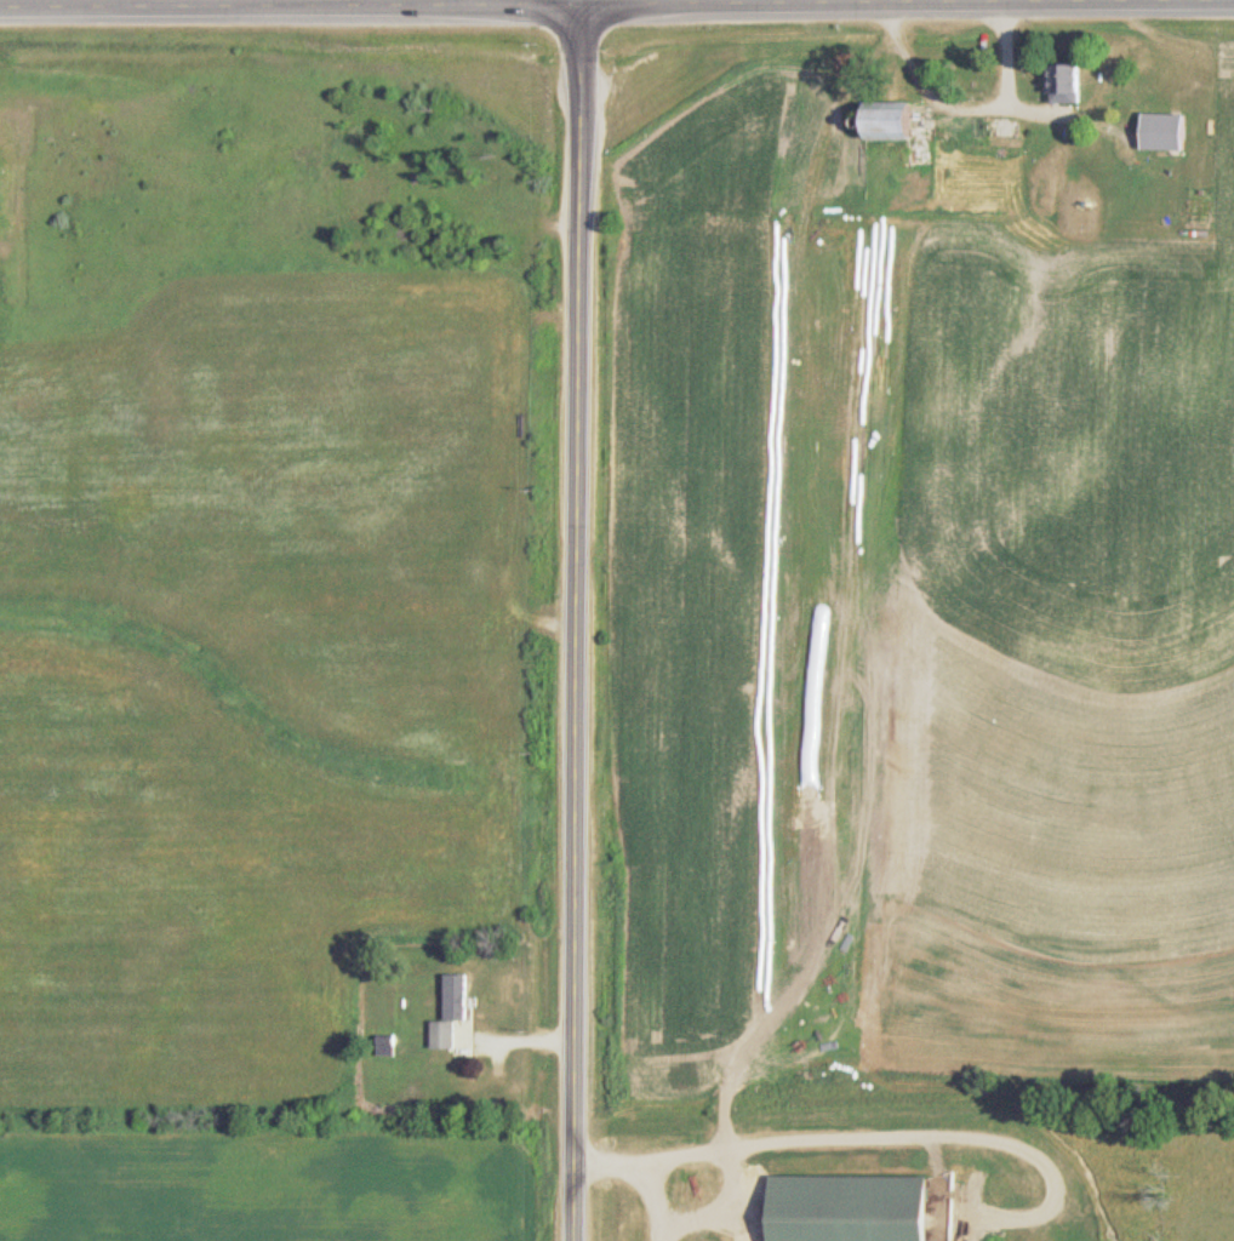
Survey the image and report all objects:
road: (475, 2)
building: (874, 120)
building: (1155, 128)
road: (573, 619)
crop: (253, 664)
building: (453, 1011)
crop: (263, 1180)

